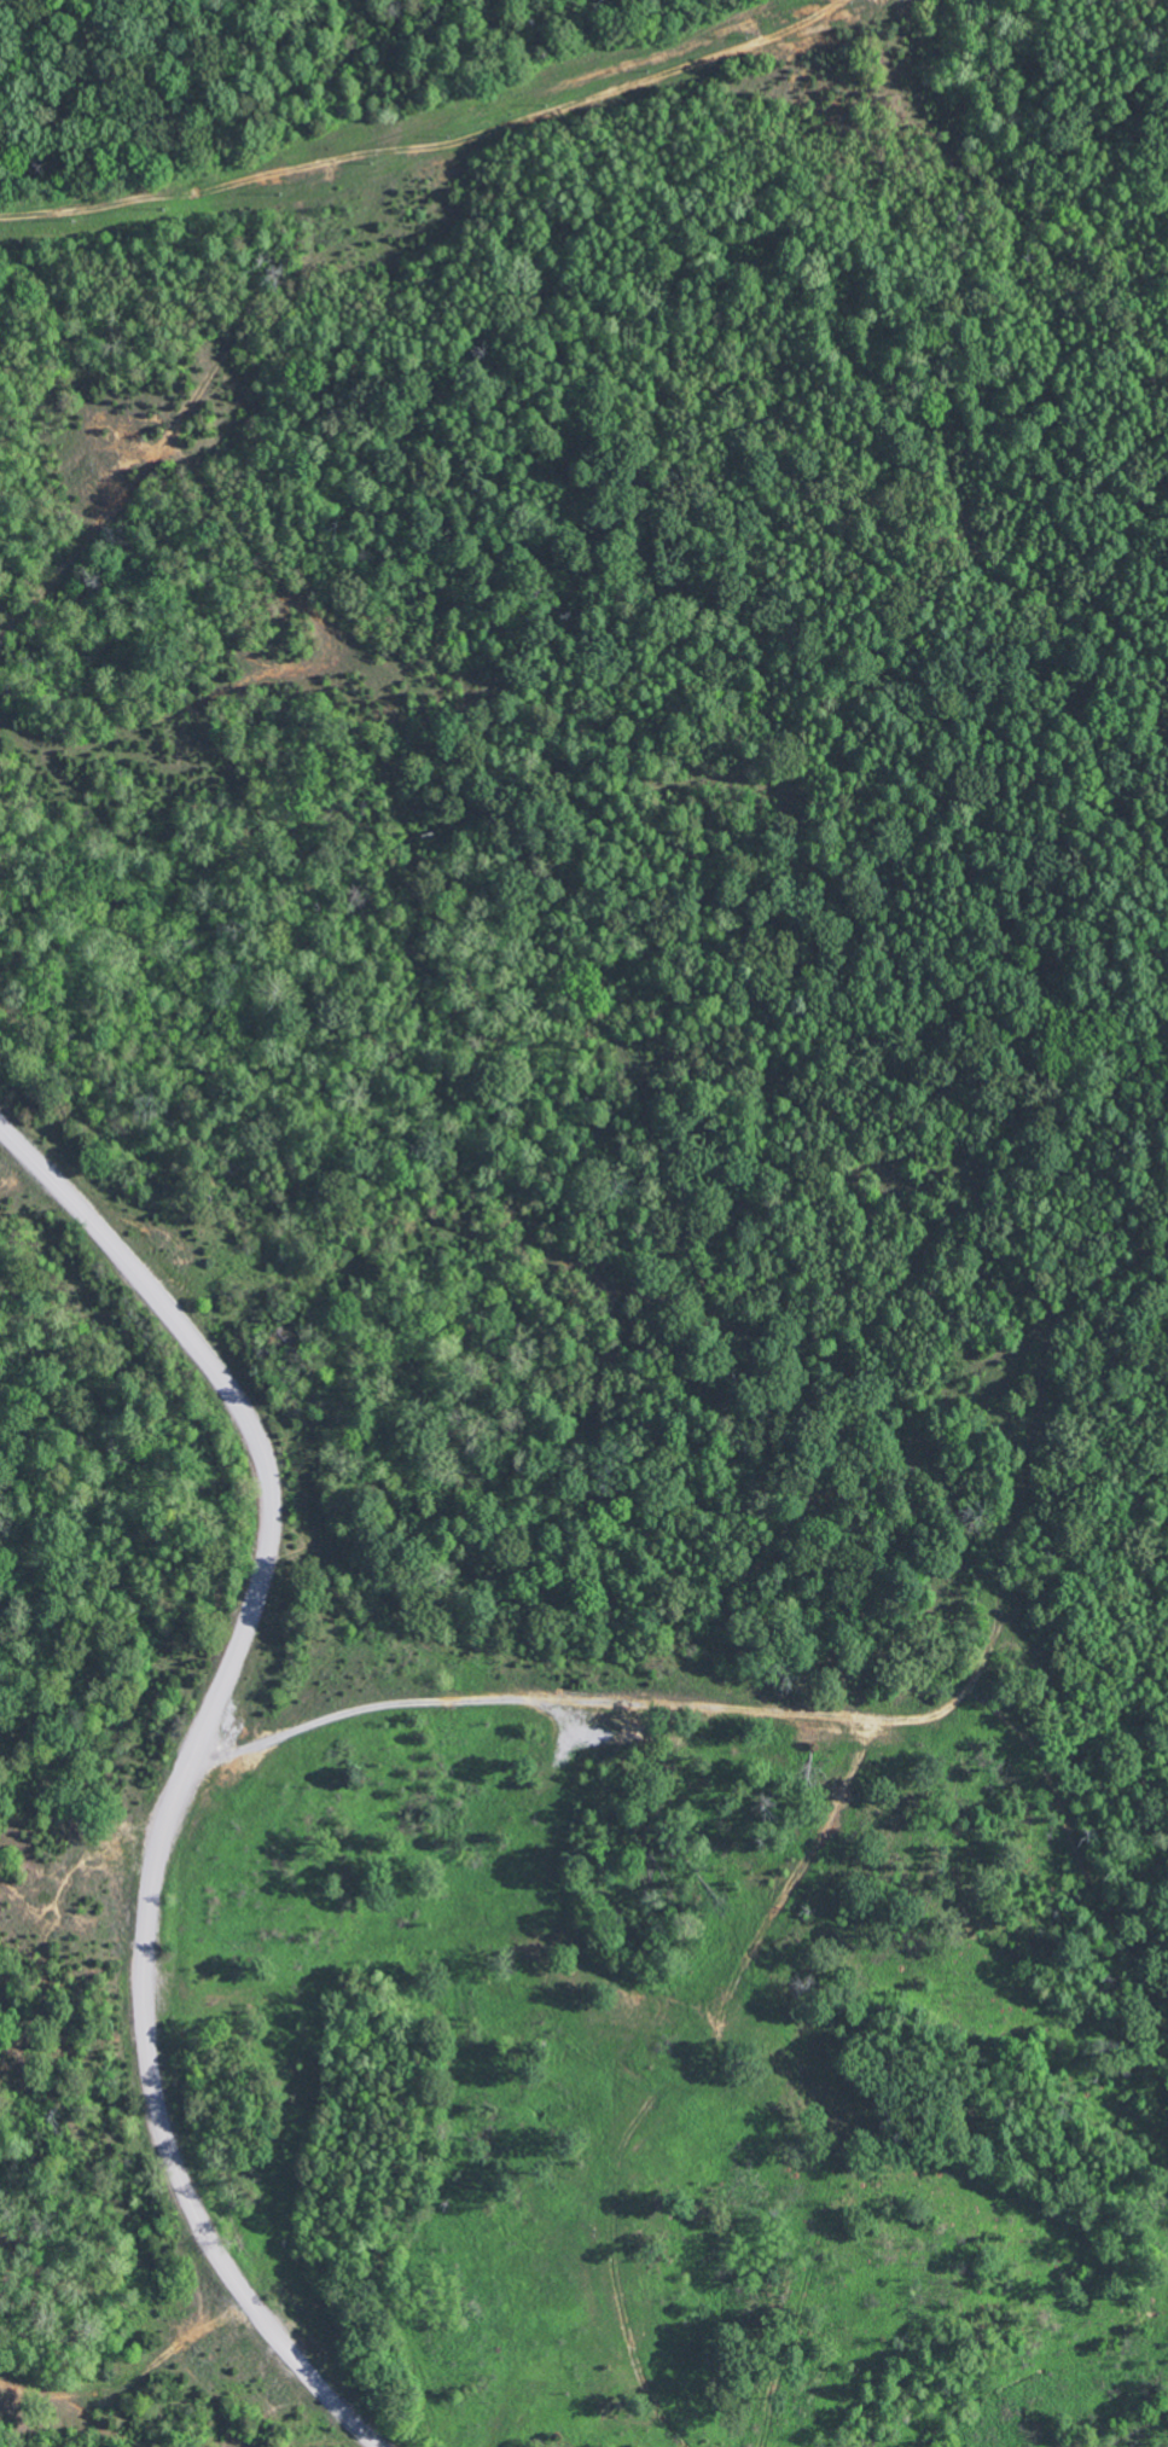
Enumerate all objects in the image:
road: (502, 1699)
road: (186, 1769)

